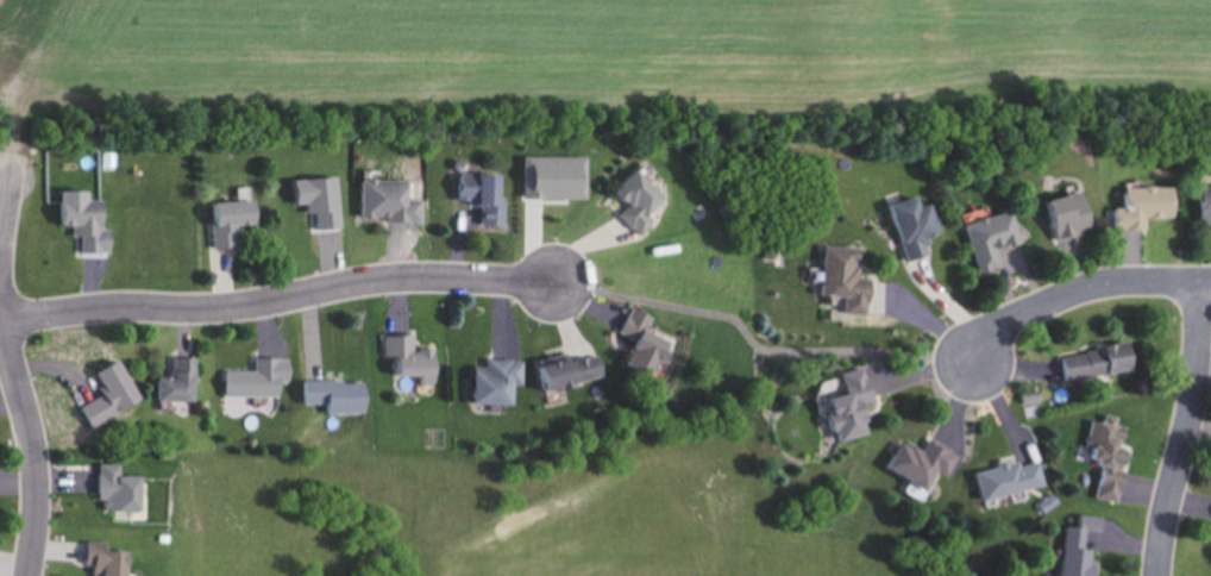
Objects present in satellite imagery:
crop: (615, 64)
road: (6, 194)
building: (487, 196)
building: (393, 202)
building: (640, 204)
building: (1148, 207)
building: (1207, 208)
building: (1071, 217)
building: (234, 223)
building: (89, 224)
building: (916, 227)
building: (992, 240)
building: (847, 280)
road: (1078, 288)
road: (277, 299)
road: (755, 344)
building: (646, 345)
building: (413, 358)
building: (1099, 363)
building: (571, 374)
building: (261, 381)
building: (500, 382)
building: (182, 383)
building: (339, 396)
building: (855, 411)
road: (1181, 428)
building: (1109, 445)
road: (29, 449)
building: (923, 464)
building: (1009, 481)
building: (1111, 487)
building: (121, 493)
park: (507, 511)
building: (1078, 547)
building: (109, 562)

